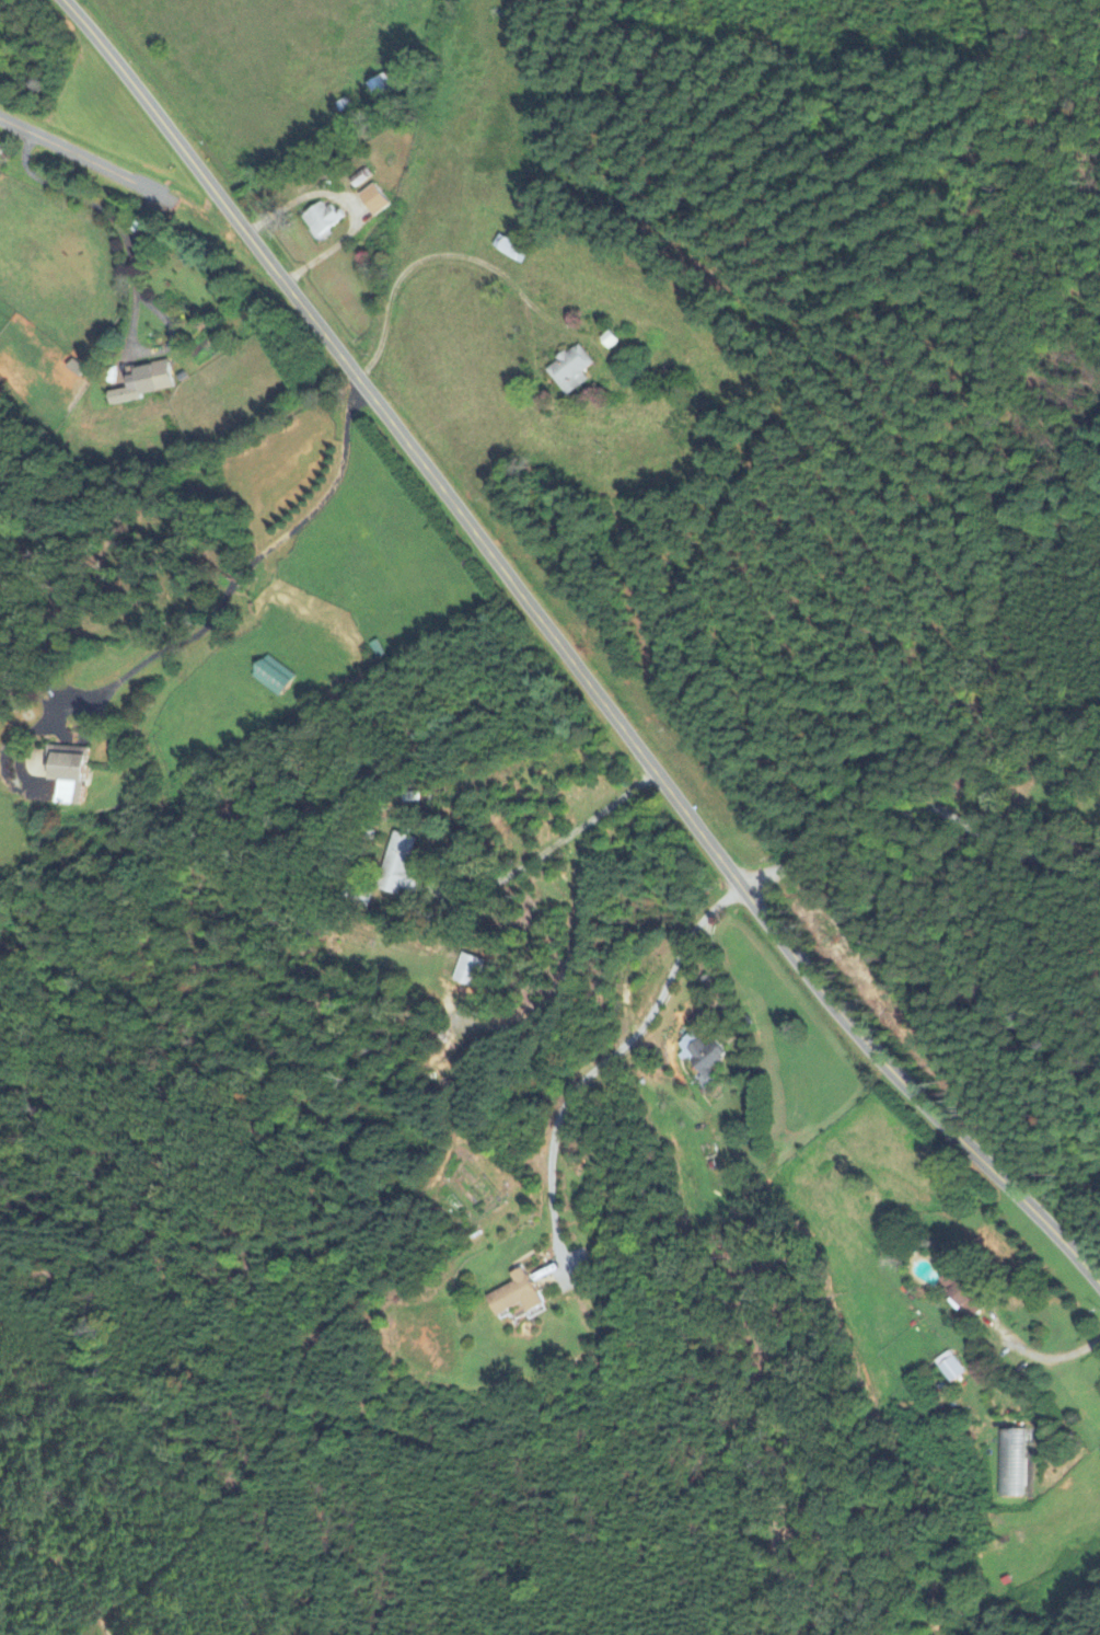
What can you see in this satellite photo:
building: (381, 88)
road: (71, 156)
building: (373, 199)
road: (140, 215)
building: (320, 218)
building: (509, 249)
road: (459, 256)
road: (131, 267)
building: (570, 370)
building: (142, 383)
road: (253, 560)
road: (567, 655)
building: (273, 676)
building: (68, 772)
road: (922, 804)
road: (553, 845)
building: (398, 867)
building: (467, 970)
building: (699, 1057)
road: (607, 1058)
building: (516, 1296)
building: (961, 1296)
road: (1050, 1357)
building: (949, 1368)
building: (1011, 1464)

